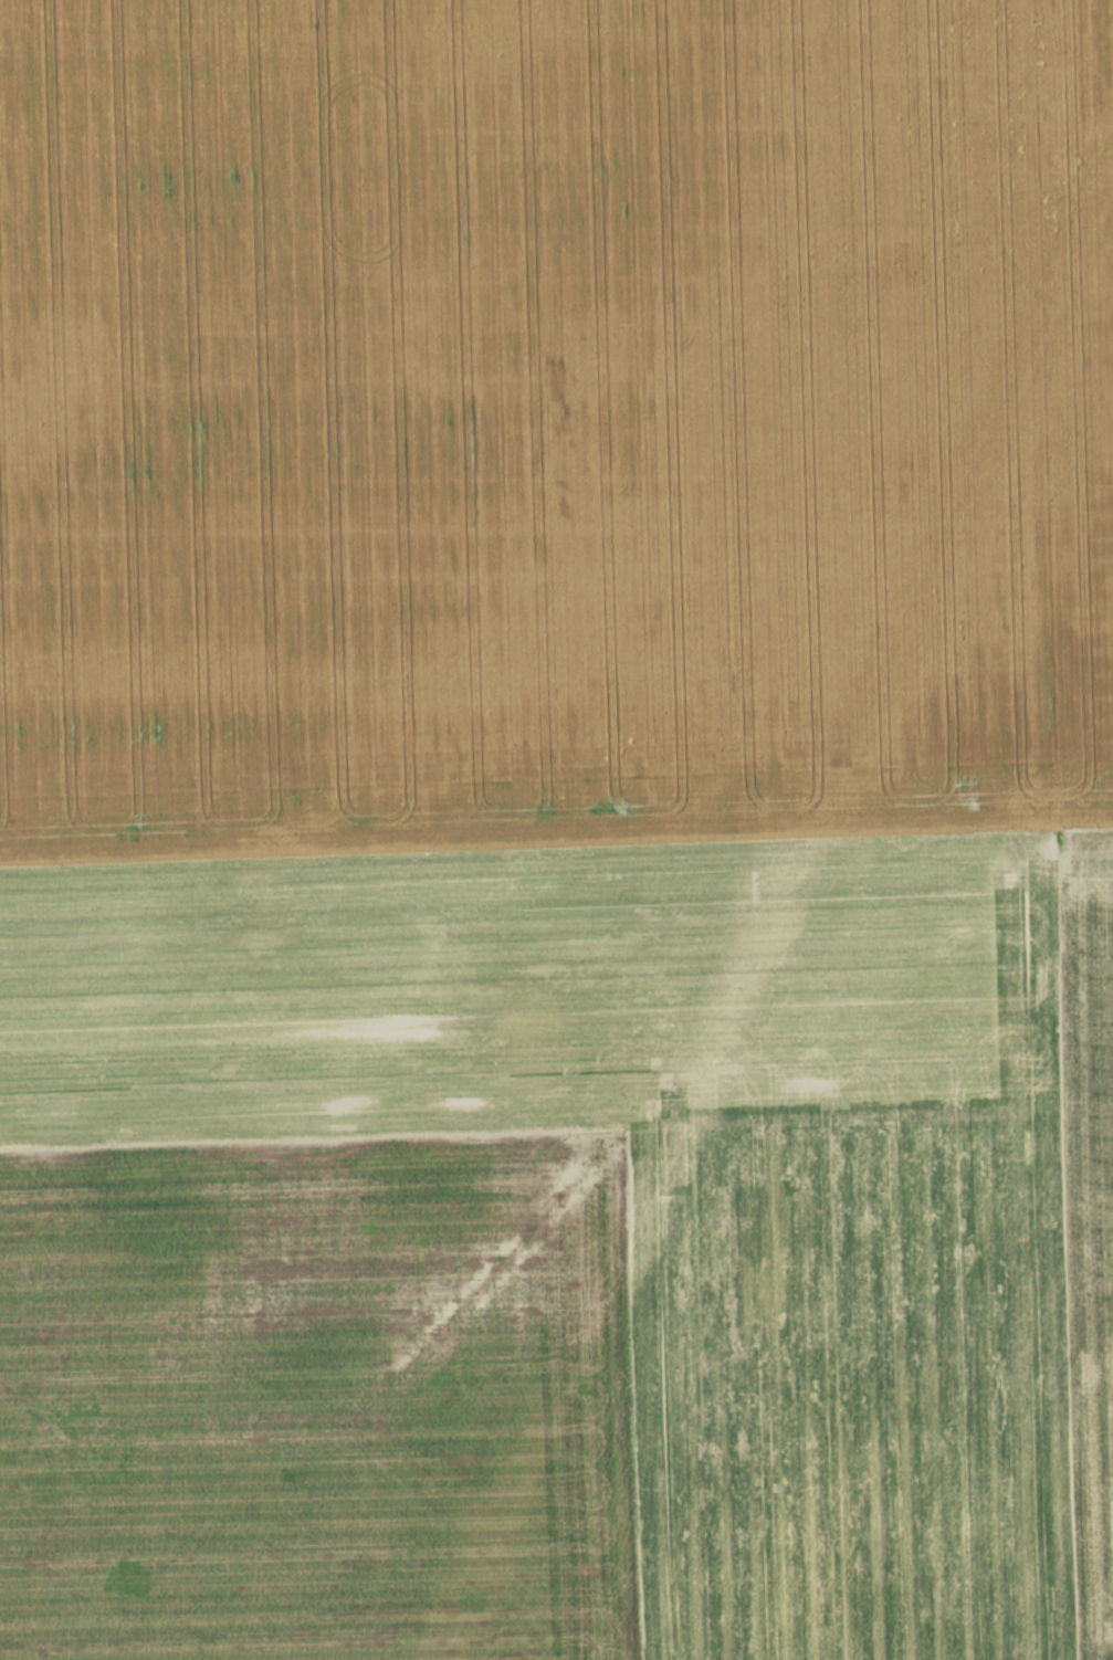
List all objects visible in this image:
crop: (553, 428)
crop: (560, 1258)

